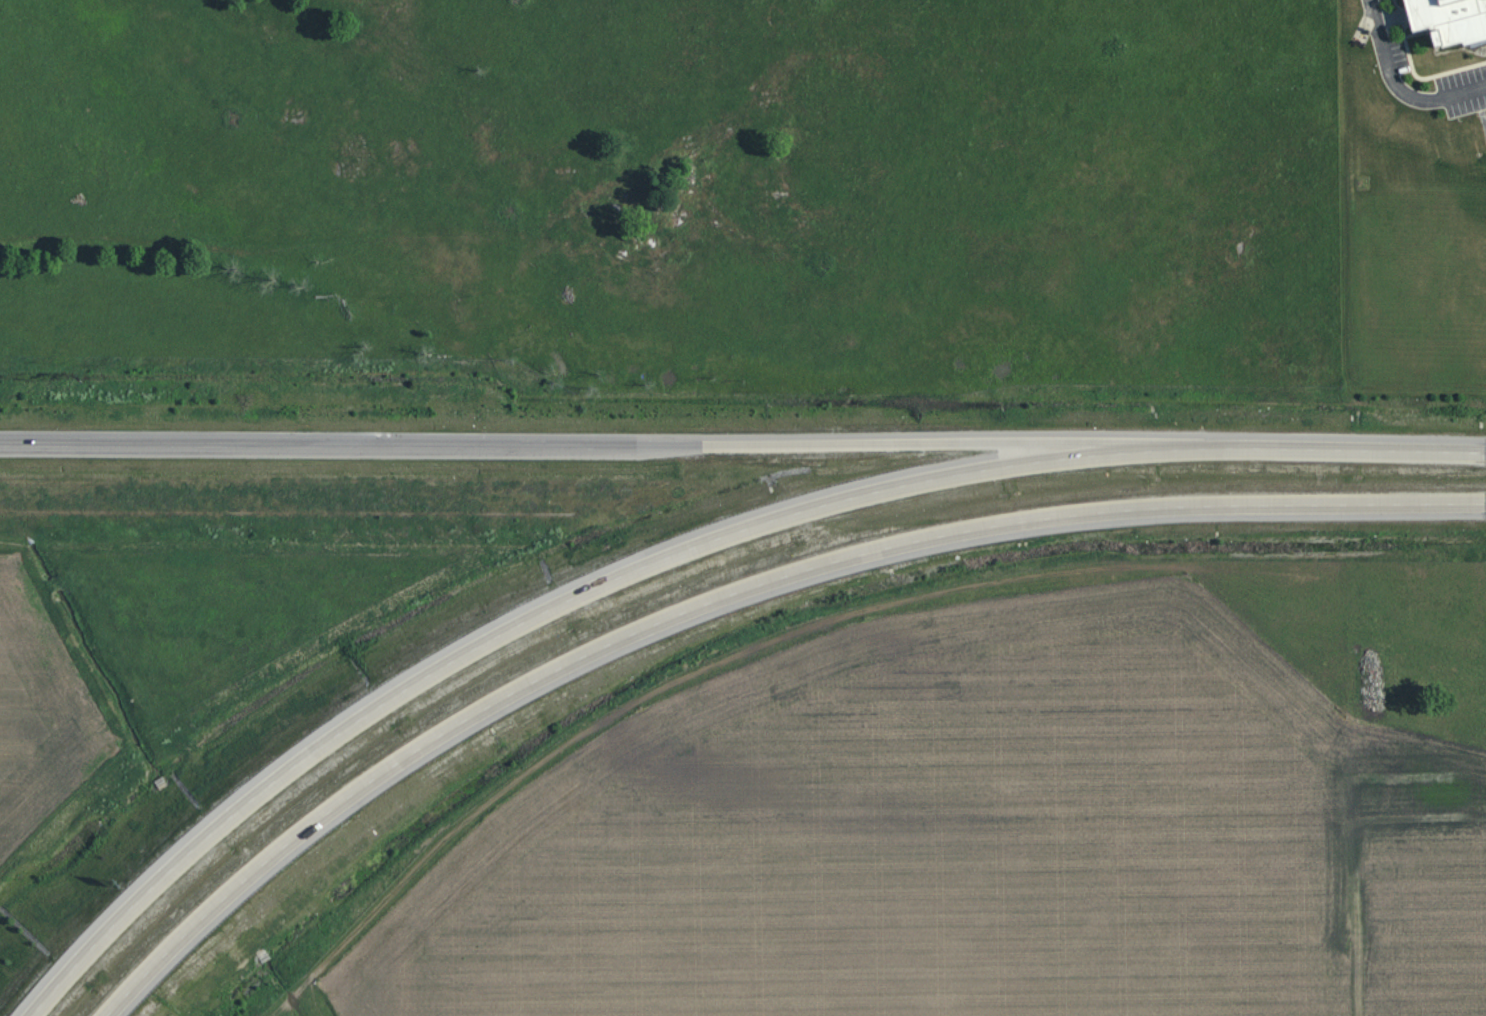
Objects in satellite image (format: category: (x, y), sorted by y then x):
building: (1449, 20)
road: (1398, 88)
parking lot: (1463, 91)
road: (931, 443)
road: (350, 446)
road: (1323, 448)
road: (1485, 448)
road: (1484, 504)
road: (746, 595)
road: (552, 617)

